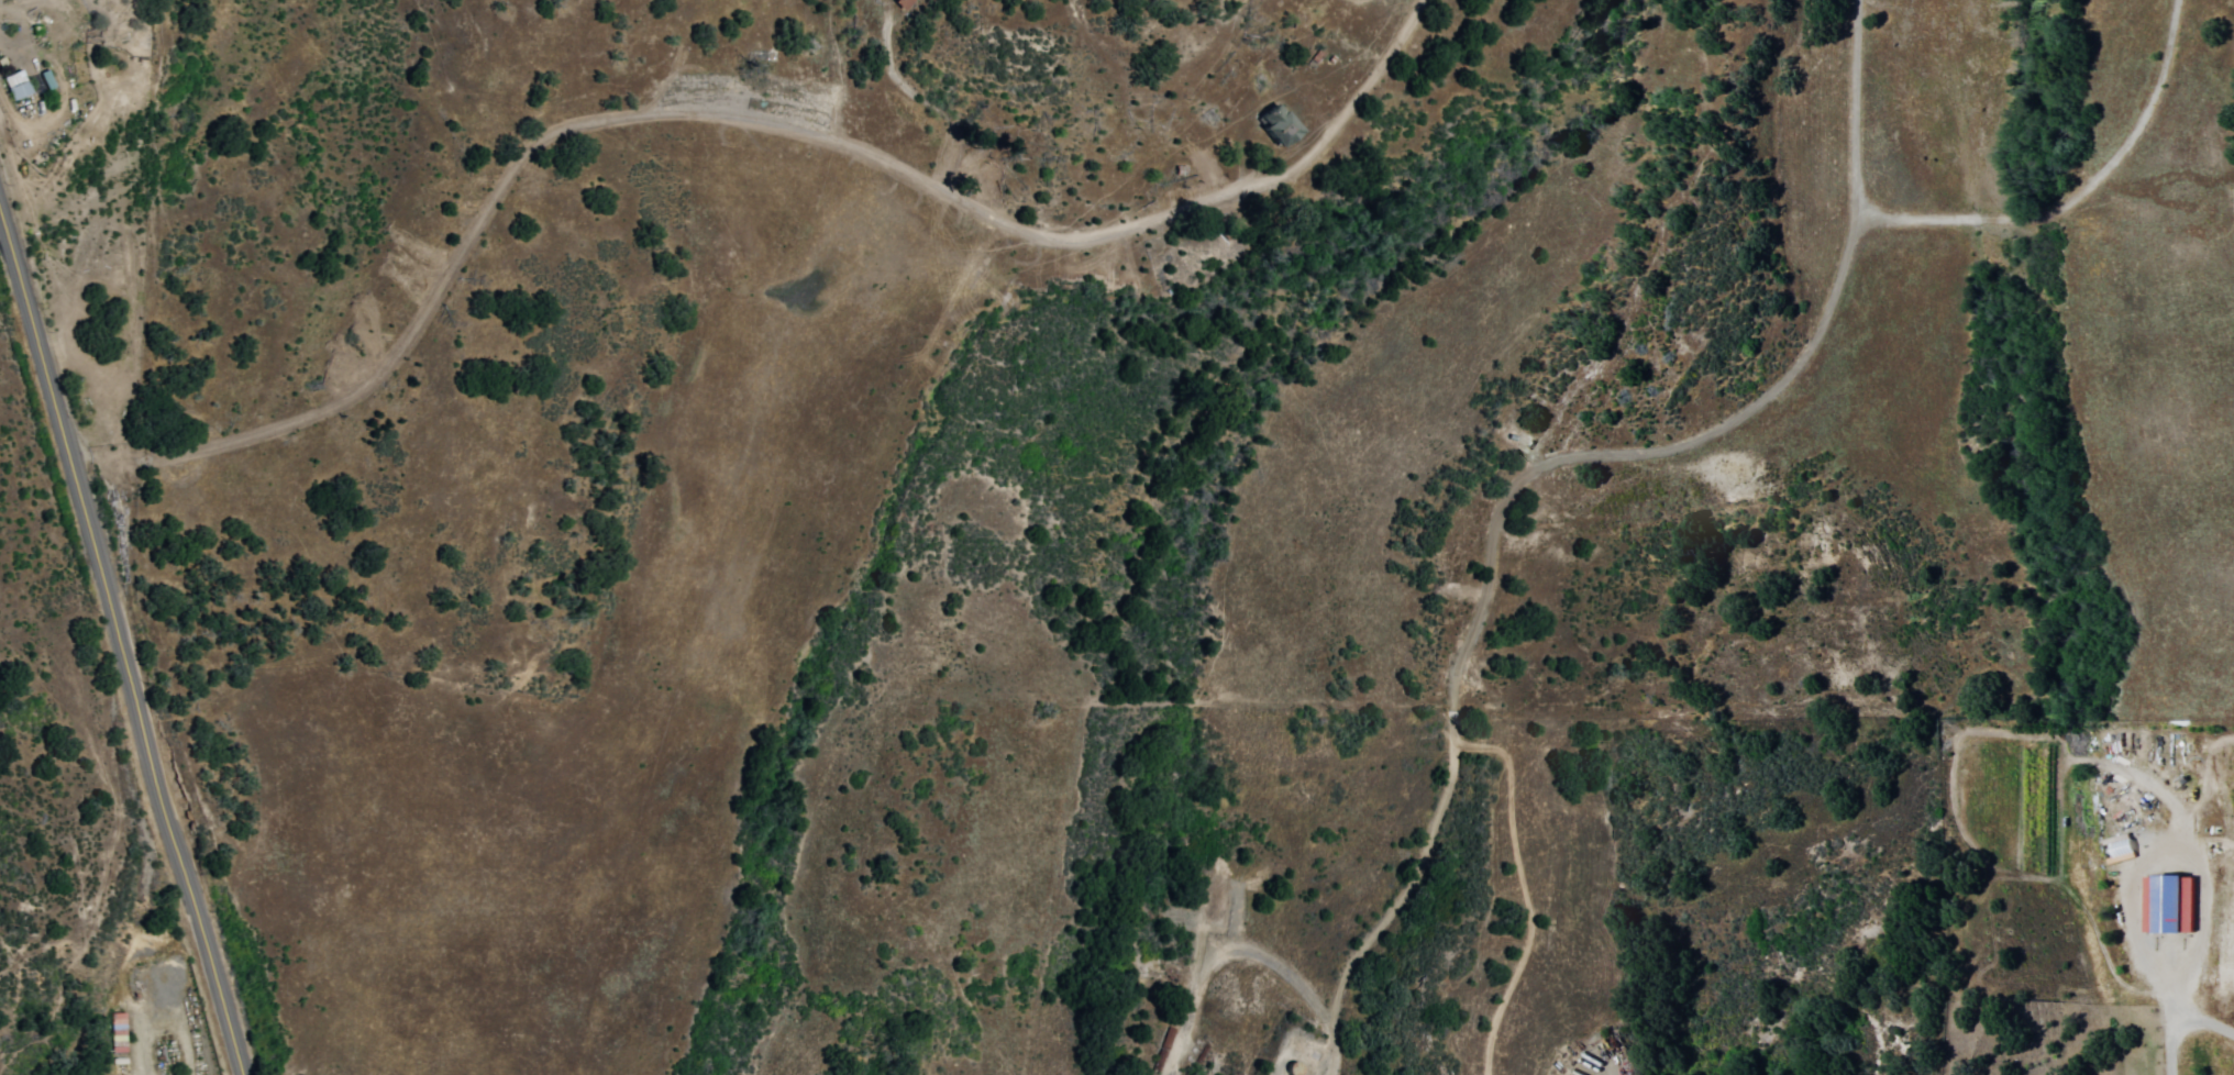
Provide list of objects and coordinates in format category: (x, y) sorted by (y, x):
building: (903, 3)
building: (47, 79)
building: (18, 86)
road: (736, 113)
building: (1283, 125)
road: (123, 636)
building: (2114, 849)
building: (2165, 904)
building: (118, 1032)

